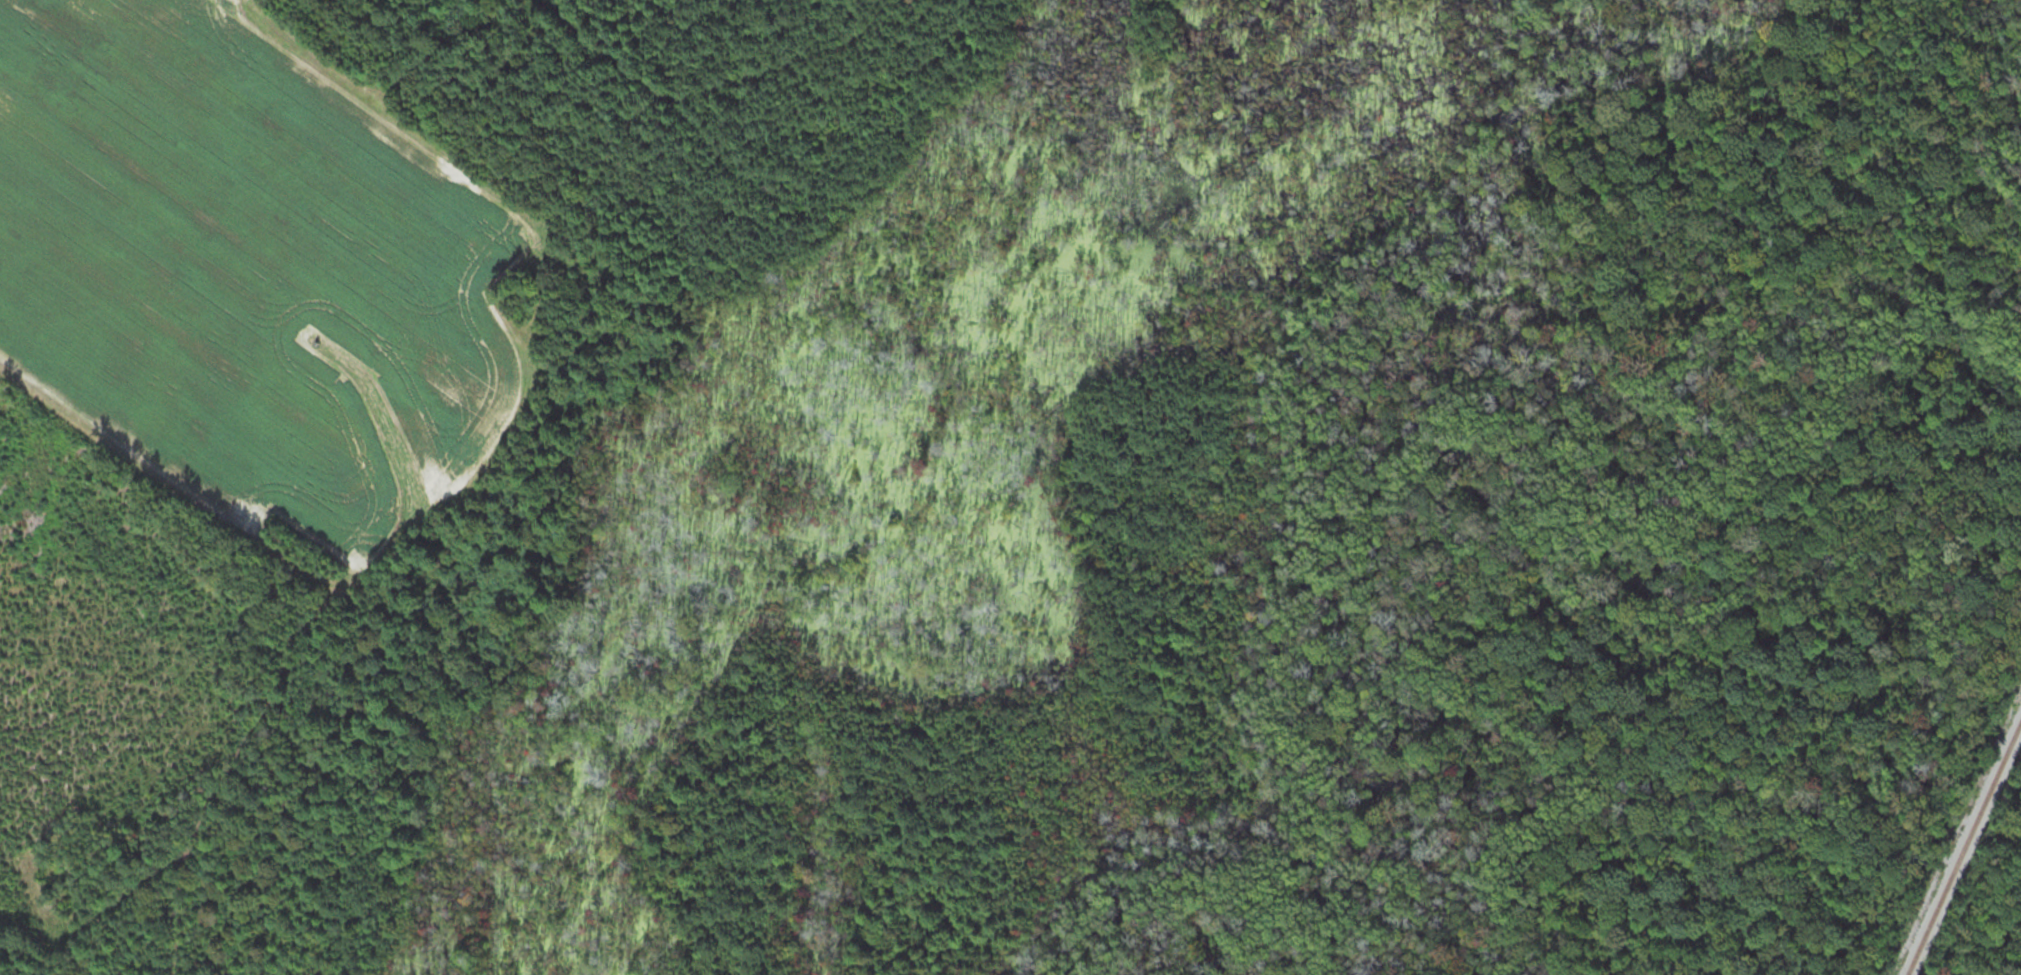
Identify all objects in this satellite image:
railway: (1964, 848)

